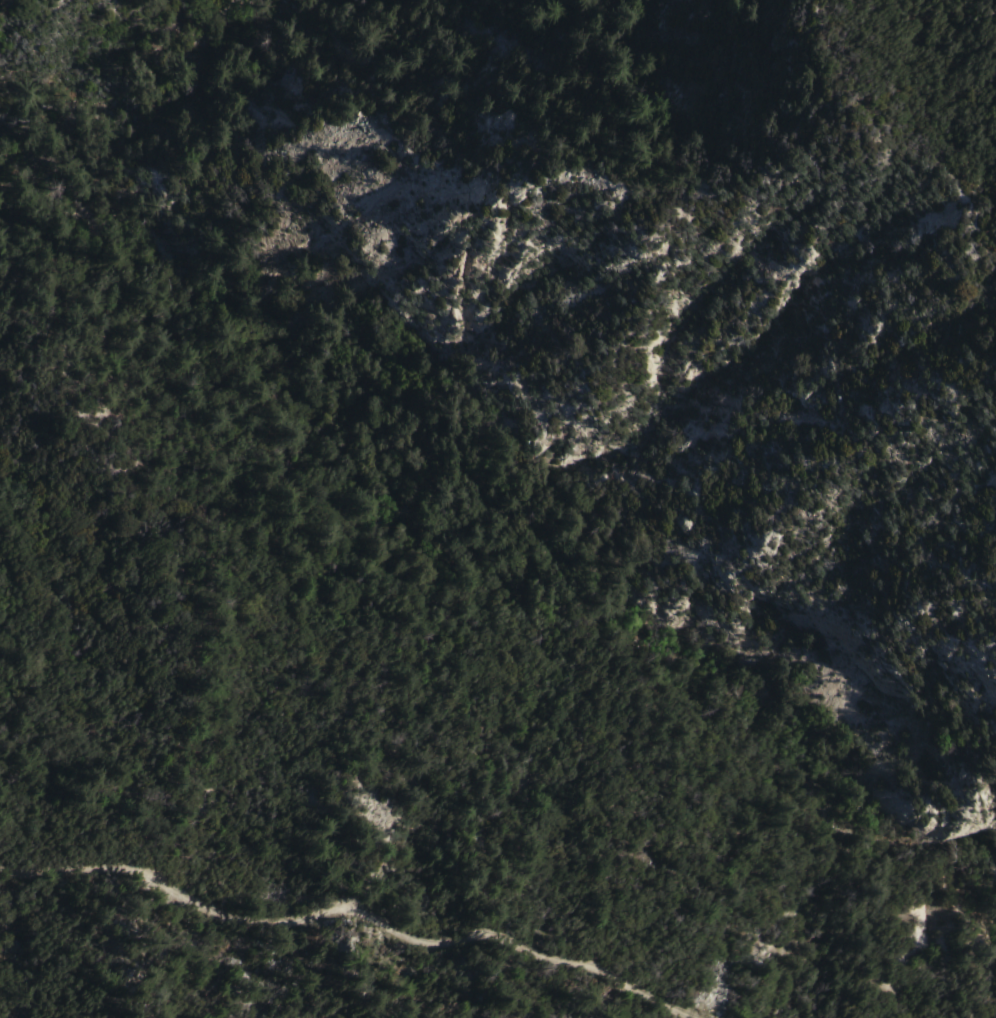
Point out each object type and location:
road: (968, 218)
road: (349, 911)

